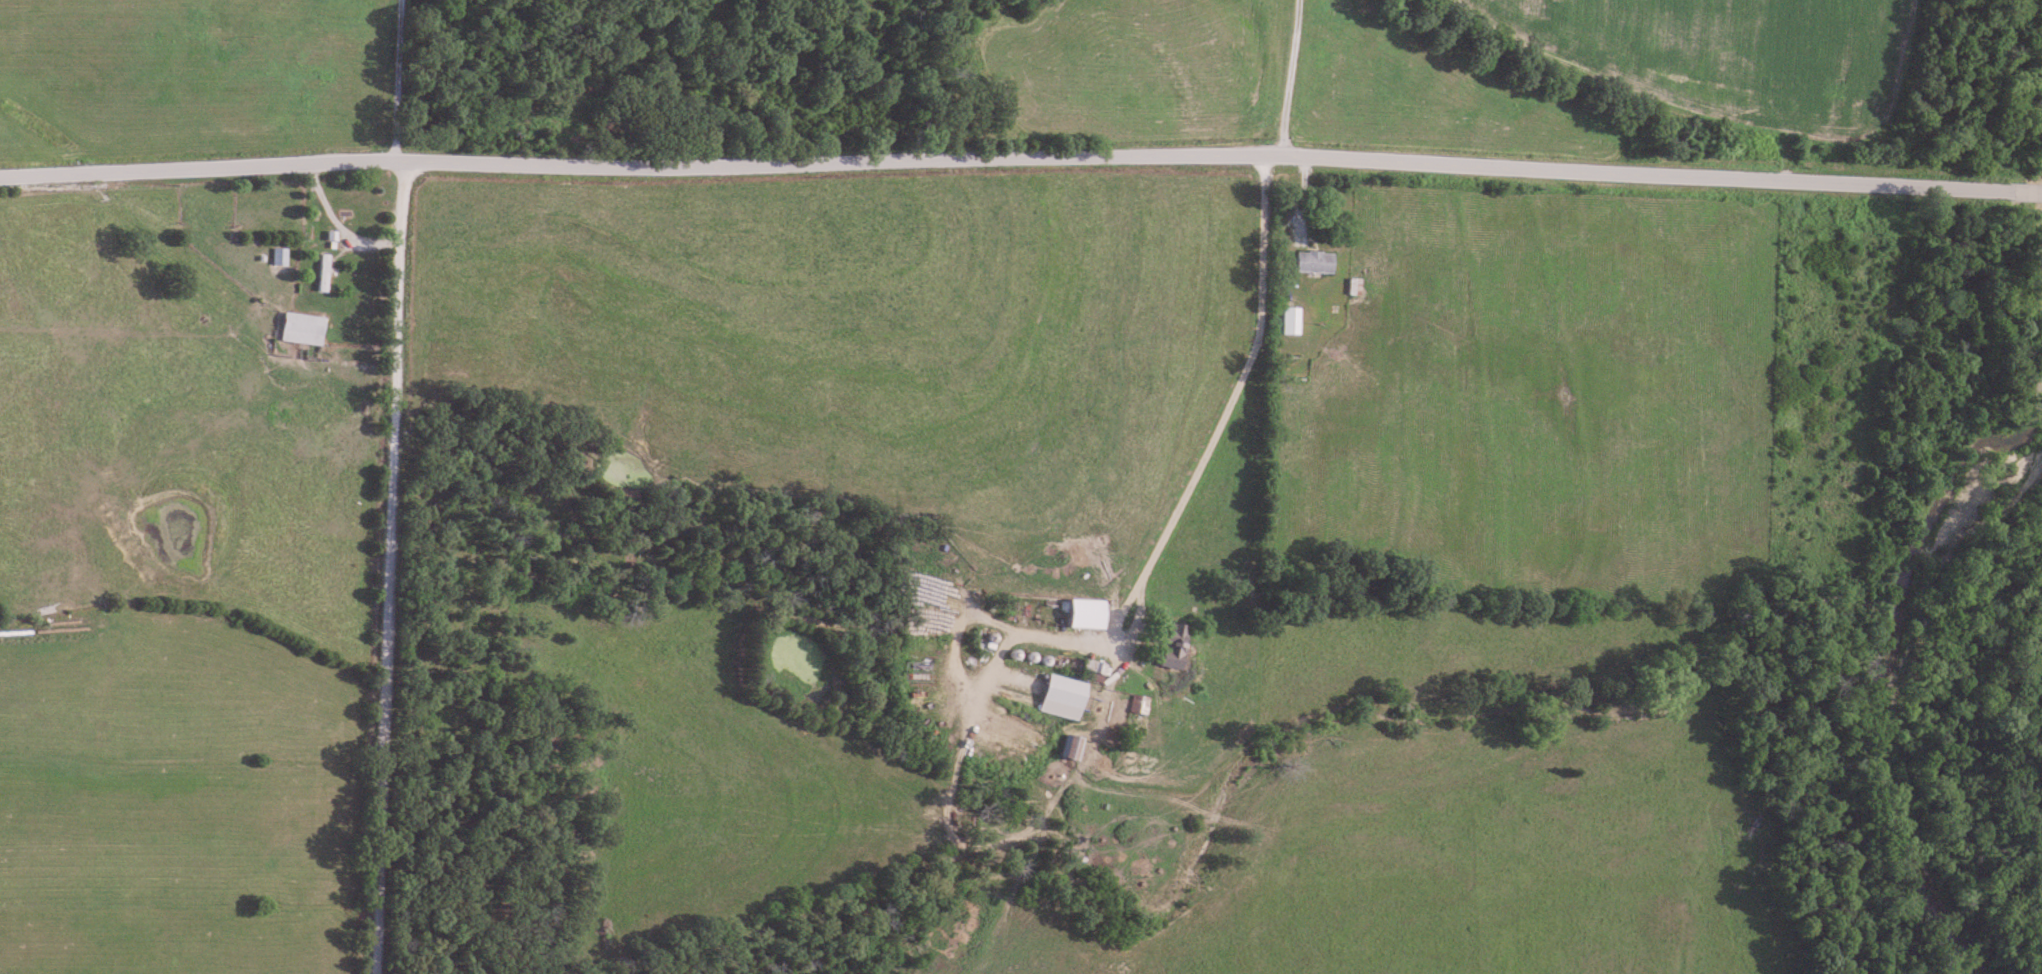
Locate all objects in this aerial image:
road: (397, 80)
road: (960, 158)
road: (1981, 191)
road: (337, 225)
building: (278, 256)
building: (1311, 262)
building: (320, 273)
building: (1288, 321)
building: (299, 328)
road: (1258, 329)
road: (393, 566)
building: (1171, 639)
building: (1134, 705)
building: (1066, 749)

